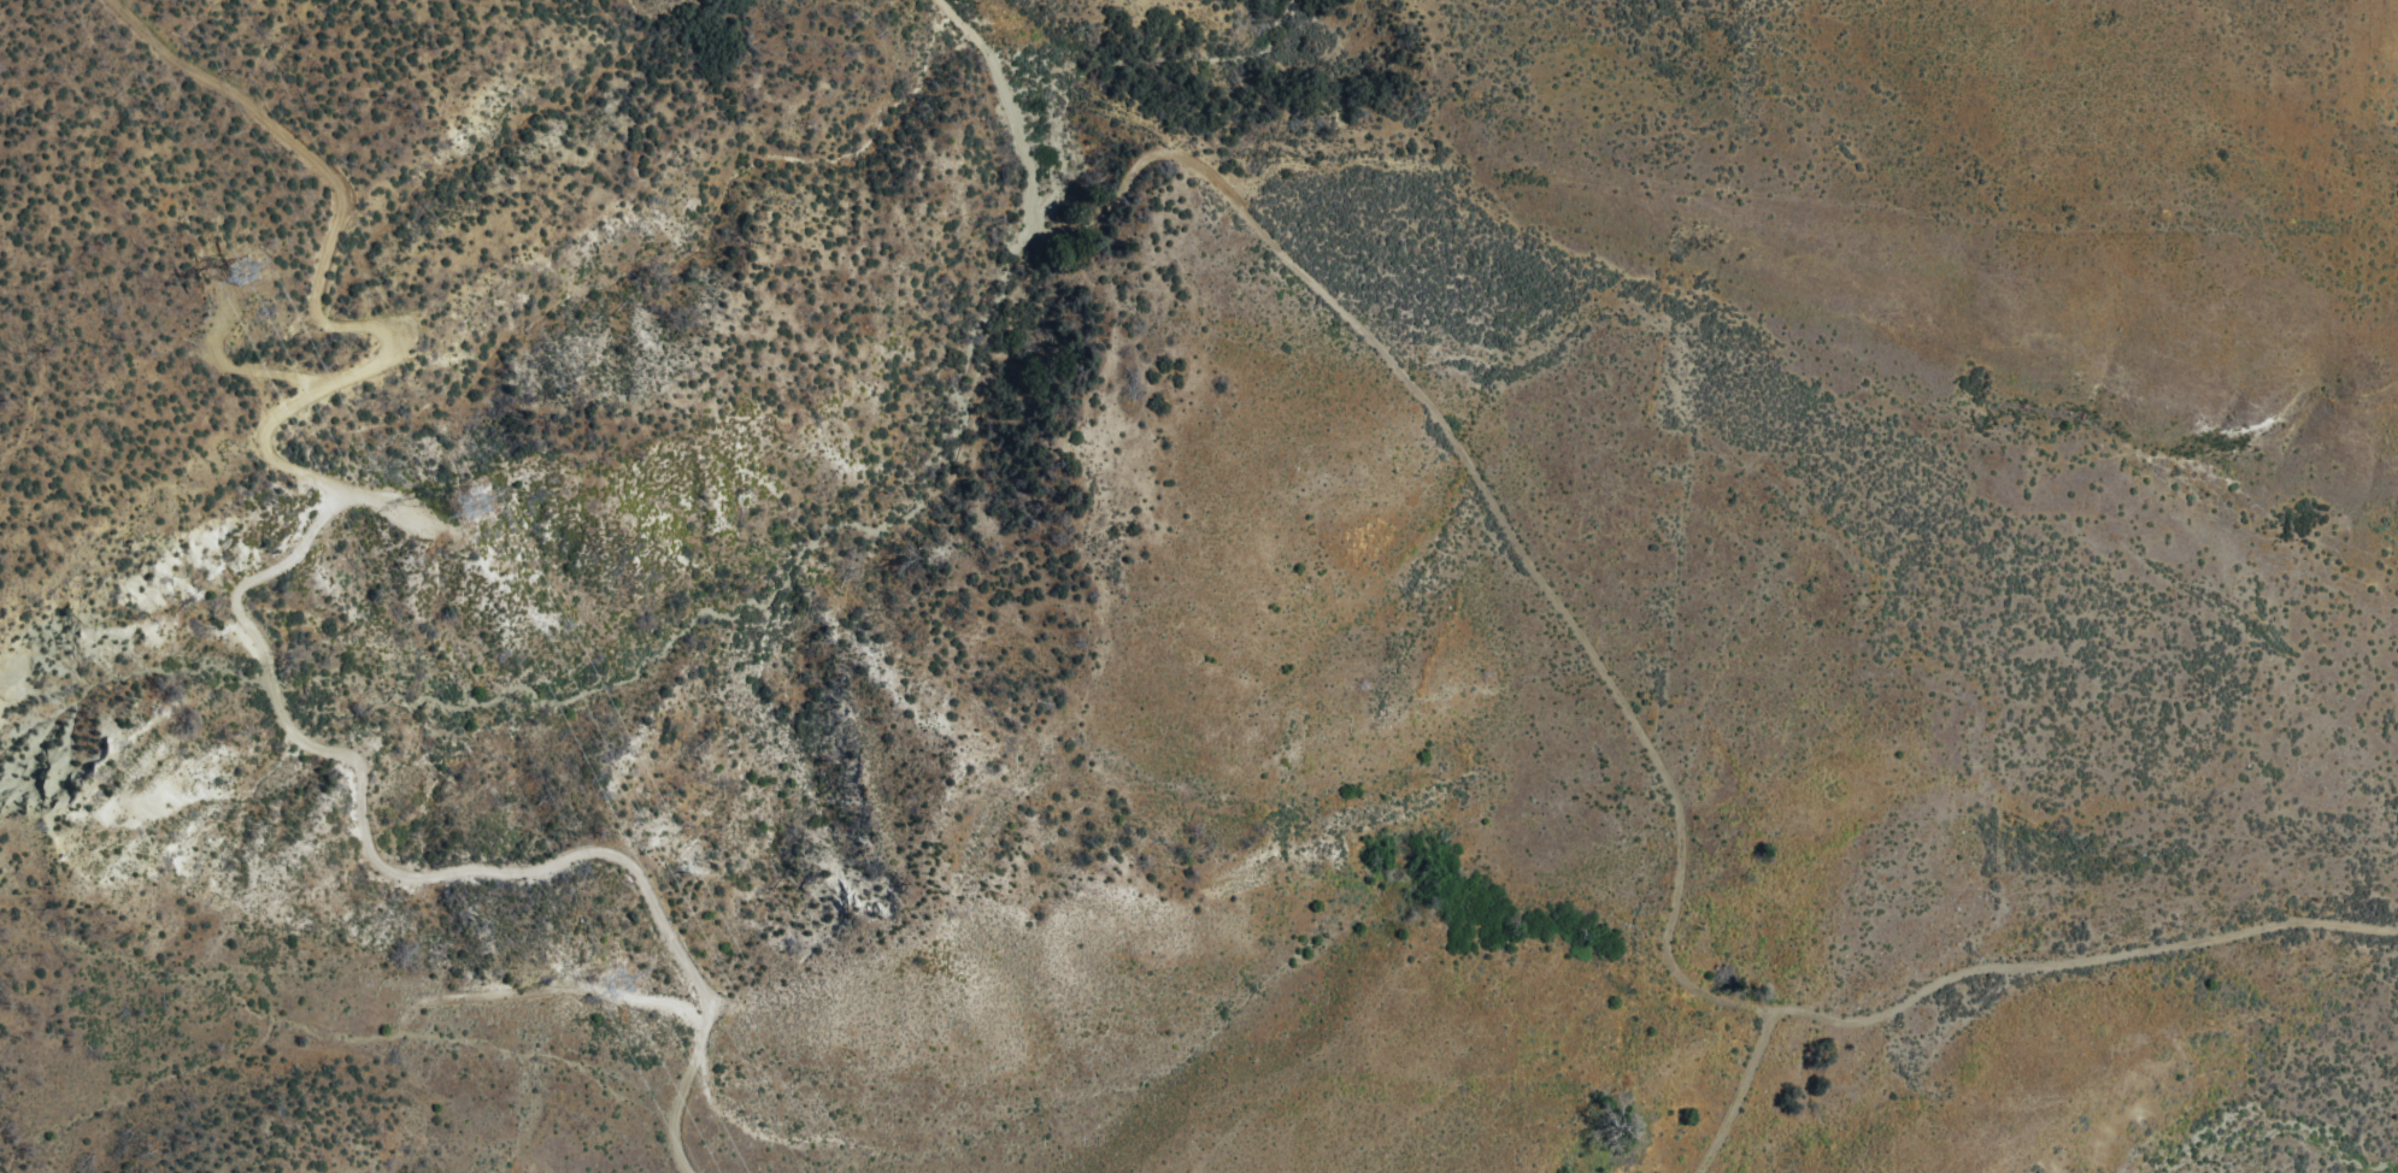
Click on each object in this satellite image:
power tower: (247, 277)
road: (1416, 393)
power tower: (455, 484)
road: (235, 596)
road: (1992, 969)
power tower: (605, 982)

